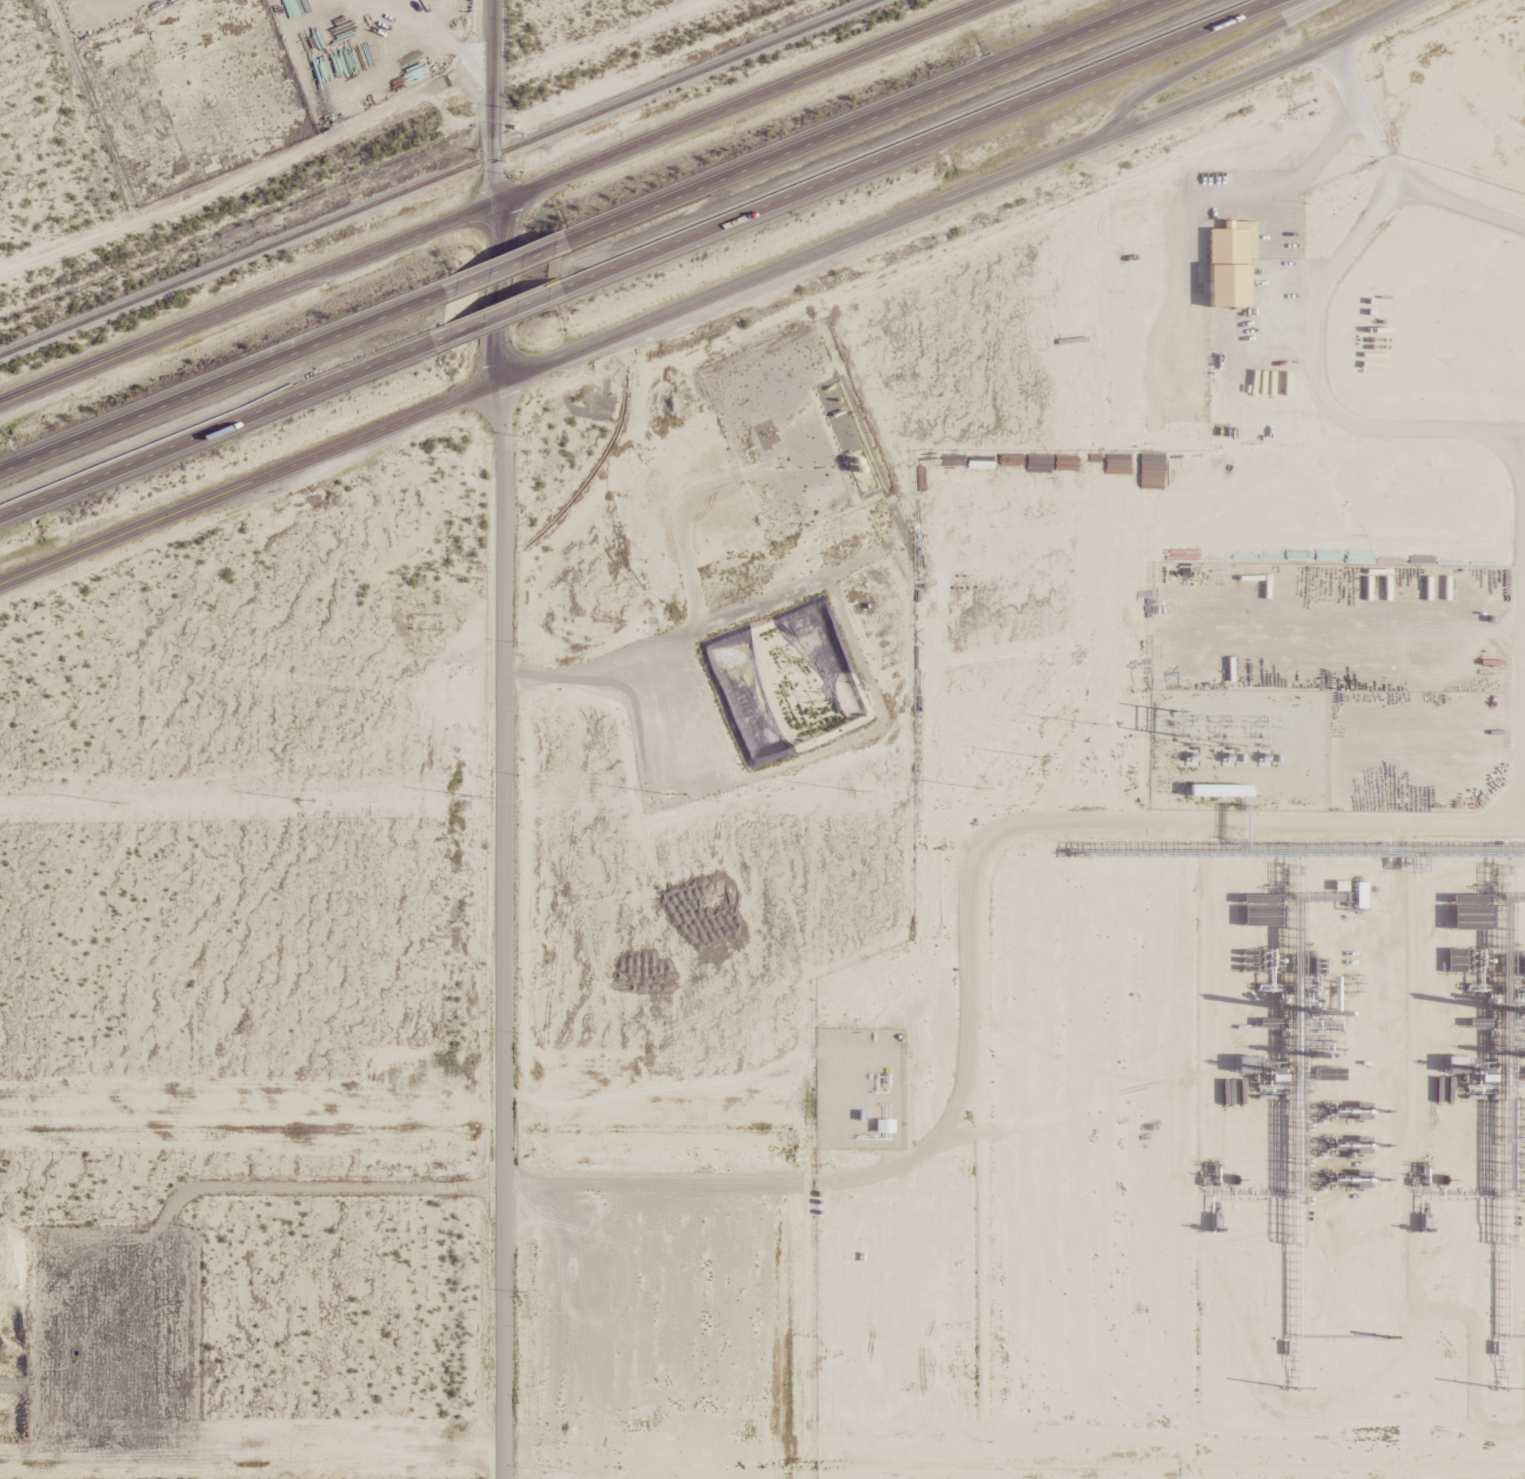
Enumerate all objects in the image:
road: (431, 35)
road: (1213, 59)
road: (1270, 65)
road: (484, 106)
road: (864, 121)
road: (916, 144)
railway: (442, 179)
road: (246, 183)
road: (503, 207)
building: (1229, 263)
road: (499, 268)
road: (498, 298)
road: (500, 311)
road: (558, 362)
road: (218, 383)
road: (221, 426)
power substation: (1240, 751)
road: (496, 931)

